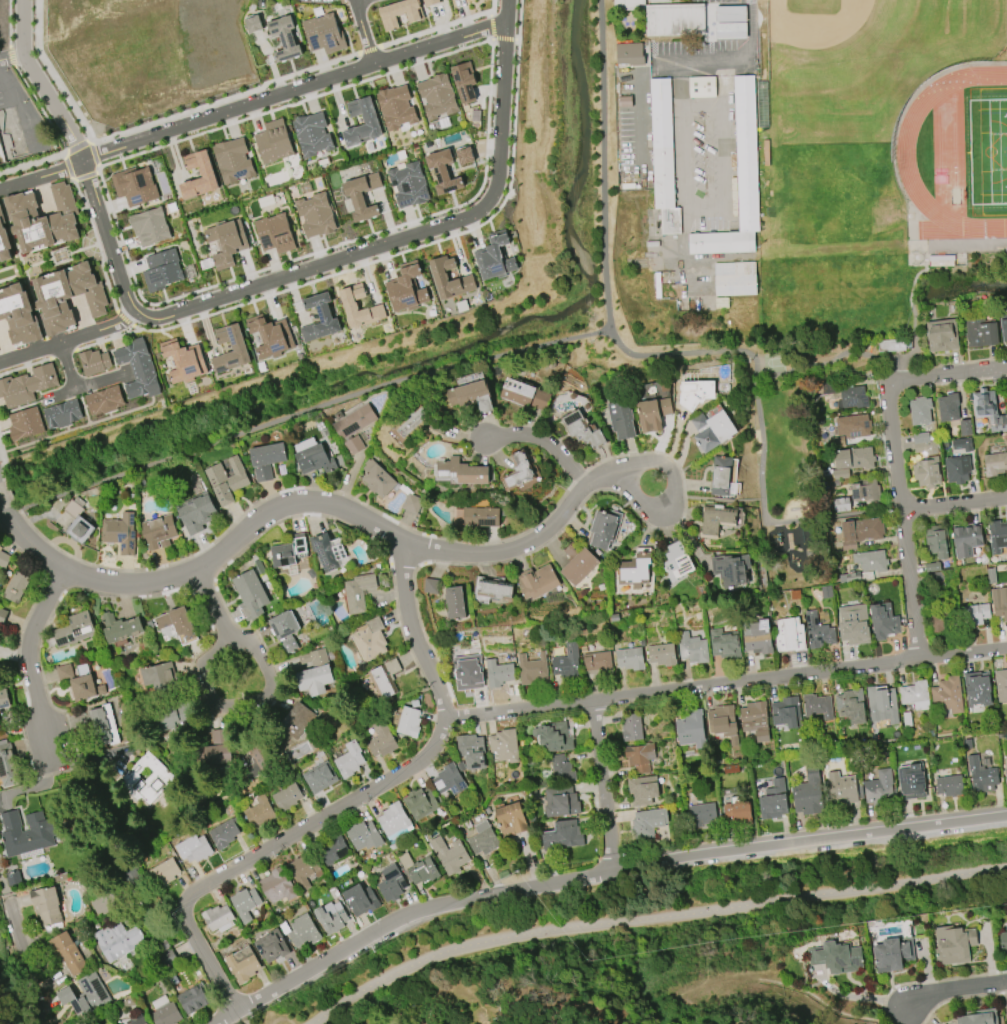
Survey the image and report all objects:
parking lot: (696, 0)
building: (434, 2)
building: (628, 3)
building: (401, 13)
road: (490, 13)
building: (675, 18)
road: (728, 20)
road: (9, 22)
building: (730, 22)
building: (252, 23)
road: (439, 26)
road: (491, 27)
road: (364, 30)
building: (323, 34)
building: (283, 37)
road: (503, 39)
road: (517, 39)
road: (491, 40)
road: (747, 40)
road: (368, 48)
building: (629, 52)
road: (10, 53)
road: (11, 56)
park: (865, 59)
road: (703, 60)
building: (463, 81)
building: (702, 85)
road: (295, 87)
building: (436, 96)
road: (639, 101)
building: (395, 106)
road: (42, 107)
road: (13, 108)
parking lot: (692, 115)
building: (369, 120)
road: (150, 123)
building: (311, 134)
building: (272, 141)
road: (77, 148)
track: (905, 149)
park: (988, 151)
road: (92, 153)
building: (663, 154)
building: (2, 156)
building: (464, 156)
road: (485, 158)
building: (232, 160)
road: (32, 163)
road: (69, 166)
road: (97, 166)
road: (97, 170)
building: (442, 171)
road: (42, 172)
building: (205, 173)
road: (84, 176)
building: (739, 178)
building: (134, 185)
building: (408, 185)
building: (361, 195)
road: (707, 207)
building: (315, 215)
building: (40, 218)
building: (149, 226)
building: (274, 234)
building: (3, 240)
building: (225, 241)
road: (98, 243)
road: (417, 244)
building: (494, 257)
building: (161, 270)
building: (735, 276)
building: (439, 277)
road: (250, 286)
building: (405, 288)
building: (66, 297)
building: (348, 305)
building: (19, 314)
road: (124, 316)
building: (318, 319)
building: (1003, 326)
road: (610, 330)
building: (979, 332)
building: (941, 335)
road: (69, 336)
building: (269, 336)
road: (107, 337)
road: (914, 344)
building: (891, 345)
building: (237, 348)
road: (63, 353)
building: (132, 354)
building: (93, 361)
building: (182, 361)
road: (25, 365)
road: (951, 370)
building: (42, 378)
building: (470, 379)
road: (78, 382)
building: (142, 383)
road: (63, 388)
building: (15, 391)
building: (695, 393)
building: (525, 395)
building: (471, 396)
building: (852, 398)
building: (103, 401)
road: (311, 405)
building: (948, 407)
building: (988, 409)
building: (919, 411)
building: (651, 413)
building: (61, 414)
building: (619, 419)
building: (354, 422)
building: (412, 422)
building: (24, 424)
building: (852, 426)
building: (964, 428)
building: (711, 429)
building: (580, 430)
building: (920, 437)
road: (544, 444)
park: (801, 444)
building: (353, 445)
building: (968, 445)
building: (925, 447)
building: (853, 458)
building: (314, 459)
building: (265, 460)
road: (4, 461)
building: (994, 464)
building: (957, 469)
building: (518, 470)
building: (460, 472)
building: (926, 472)
building: (721, 477)
building: (377, 479)
building: (226, 480)
road: (9, 488)
road: (284, 488)
building: (865, 490)
road: (681, 497)
road: (712, 498)
road: (585, 499)
road: (1, 502)
building: (411, 503)
road: (954, 503)
building: (841, 505)
building: (196, 513)
road: (767, 516)
road: (901, 516)
building: (479, 517)
building: (714, 520)
building: (78, 522)
building: (603, 528)
building: (861, 530)
building: (157, 531)
building: (119, 533)
road: (392, 534)
building: (997, 536)
building: (966, 539)
building: (937, 541)
building: (288, 551)
building: (328, 551)
building: (4, 559)
building: (870, 560)
building: (676, 561)
building: (576, 563)
building: (636, 567)
building: (731, 568)
building: (535, 581)
building: (431, 586)
building: (15, 588)
building: (492, 588)
building: (358, 591)
building: (250, 593)
building: (999, 602)
building: (452, 603)
road: (30, 608)
building: (974, 614)
building: (2, 616)
building: (944, 621)
building: (176, 622)
building: (883, 622)
building: (283, 624)
building: (853, 625)
building: (120, 627)
building: (71, 630)
building: (818, 631)
building: (789, 635)
building: (757, 637)
building: (369, 639)
building: (724, 644)
building: (692, 648)
road: (26, 653)
building: (662, 654)
building: (630, 658)
building: (597, 662)
building: (566, 663)
building: (530, 669)
building: (64, 671)
building: (312, 673)
building: (497, 673)
building: (466, 674)
building: (158, 676)
building: (383, 679)
road: (726, 683)
building: (1001, 685)
building: (85, 687)
building: (976, 689)
building: (915, 695)
building: (947, 695)
building: (3, 699)
building: (881, 703)
building: (851, 706)
building: (816, 707)
road: (209, 708)
building: (786, 712)
building: (296, 720)
building: (755, 720)
building: (408, 722)
building: (723, 723)
building: (100, 726)
building: (631, 728)
building: (690, 729)
building: (553, 737)
building: (381, 740)
building: (504, 745)
building: (471, 751)
building: (214, 755)
building: (639, 757)
building: (348, 759)
building: (6, 764)
building: (561, 769)
road: (61, 770)
building: (981, 775)
building: (1005, 775)
building: (319, 778)
building: (146, 779)
building: (449, 780)
building: (910, 782)
road: (603, 784)
building: (949, 785)
building: (879, 789)
building: (642, 790)
building: (842, 790)
building: (807, 793)
building: (286, 798)
road: (349, 801)
building: (774, 801)
building: (560, 802)
building: (420, 803)
building: (258, 812)
building: (738, 812)
building: (701, 815)
building: (510, 819)
building: (393, 821)
building: (647, 823)
building: (26, 833)
building: (222, 834)
building: (363, 836)
building: (562, 836)
building: (483, 839)
building: (196, 850)
building: (335, 850)
building: (449, 855)
building: (406, 860)
building: (304, 870)
building: (423, 872)
road: (595, 872)
building: (163, 873)
building: (391, 883)
building: (276, 886)
building: (360, 899)
building: (244, 903)
building: (103, 905)
building: (46, 906)
building: (331, 917)
building: (218, 918)
road: (649, 918)
building: (303, 931)
building: (117, 941)
building: (1003, 942)
building: (953, 944)
building: (271, 945)
road: (21, 947)
building: (67, 952)
building: (892, 954)
building: (836, 957)
building: (242, 965)
road: (930, 980)
road: (954, 991)
building: (85, 995)
building: (193, 998)
road: (959, 998)
road: (4, 1005)
building: (164, 1012)
road: (241, 1016)
building: (978, 1017)
building: (138, 1019)

